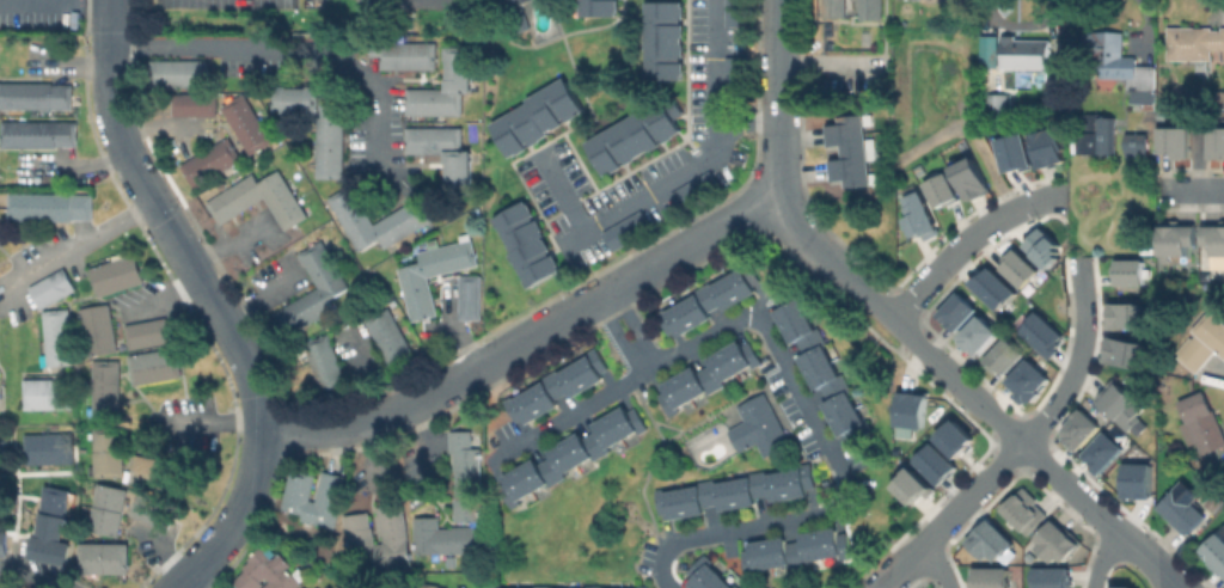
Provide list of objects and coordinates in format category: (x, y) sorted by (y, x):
road: (37, 0)
building: (514, 2)
building: (600, 7)
building: (834, 10)
building: (871, 10)
building: (732, 12)
building: (663, 39)
building: (1195, 42)
road: (280, 49)
building: (987, 50)
building: (1028, 53)
road: (711, 54)
building: (406, 55)
building: (1106, 56)
building: (457, 66)
building: (729, 69)
building: (178, 73)
building: (1145, 93)
building: (35, 96)
building: (1220, 98)
road: (778, 99)
building: (192, 104)
building: (998, 105)
building: (534, 117)
building: (245, 123)
building: (316, 124)
building: (37, 133)
building: (1098, 135)
building: (631, 137)
building: (1174, 146)
building: (1046, 147)
building: (1217, 148)
building: (1138, 149)
building: (850, 151)
building: (441, 152)
building: (1014, 152)
building: (209, 161)
building: (972, 182)
road: (654, 183)
road: (1195, 189)
building: (943, 192)
building: (262, 197)
building: (47, 204)
building: (348, 210)
building: (917, 216)
road: (968, 240)
road: (74, 241)
building: (1174, 241)
building: (526, 243)
building: (1214, 243)
building: (1042, 246)
building: (320, 270)
building: (1020, 270)
building: (430, 274)
building: (115, 275)
building: (1130, 275)
building: (50, 288)
building: (991, 288)
building: (467, 296)
road: (213, 299)
building: (711, 299)
building: (955, 311)
building: (1125, 316)
building: (97, 329)
road: (628, 331)
building: (146, 332)
building: (1041, 333)
building: (977, 335)
building: (55, 337)
building: (388, 337)
road: (526, 339)
building: (1205, 342)
building: (1122, 351)
building: (1005, 356)
building: (324, 360)
building: (821, 363)
building: (152, 366)
building: (710, 374)
road: (794, 380)
building: (1026, 380)
building: (104, 387)
building: (559, 387)
building: (45, 393)
road: (971, 396)
building: (1120, 406)
building: (912, 410)
building: (1201, 422)
building: (760, 427)
building: (1077, 430)
road: (214, 433)
building: (954, 437)
road: (1015, 442)
building: (47, 447)
building: (1101, 452)
building: (105, 453)
building: (573, 453)
building: (934, 463)
building: (149, 472)
building: (463, 477)
building: (1136, 480)
building: (911, 485)
building: (736, 491)
building: (300, 498)
building: (147, 508)
building: (105, 509)
building: (1022, 510)
building: (1183, 510)
building: (49, 525)
building: (361, 534)
building: (439, 537)
building: (989, 541)
building: (4, 543)
building: (1058, 544)
building: (797, 550)
building: (1216, 550)
building: (102, 557)
road: (1100, 557)
road: (935, 563)
building: (269, 571)
building: (710, 575)
road: (35, 577)
building: (989, 577)
building: (1049, 577)
road: (185, 586)
building: (325, 586)
building: (430, 586)
building: (496, 586)
building: (594, 586)
building: (331, 587)
building: (526, 587)
building: (544, 587)
building: (643, 587)
building: (1121, 587)

